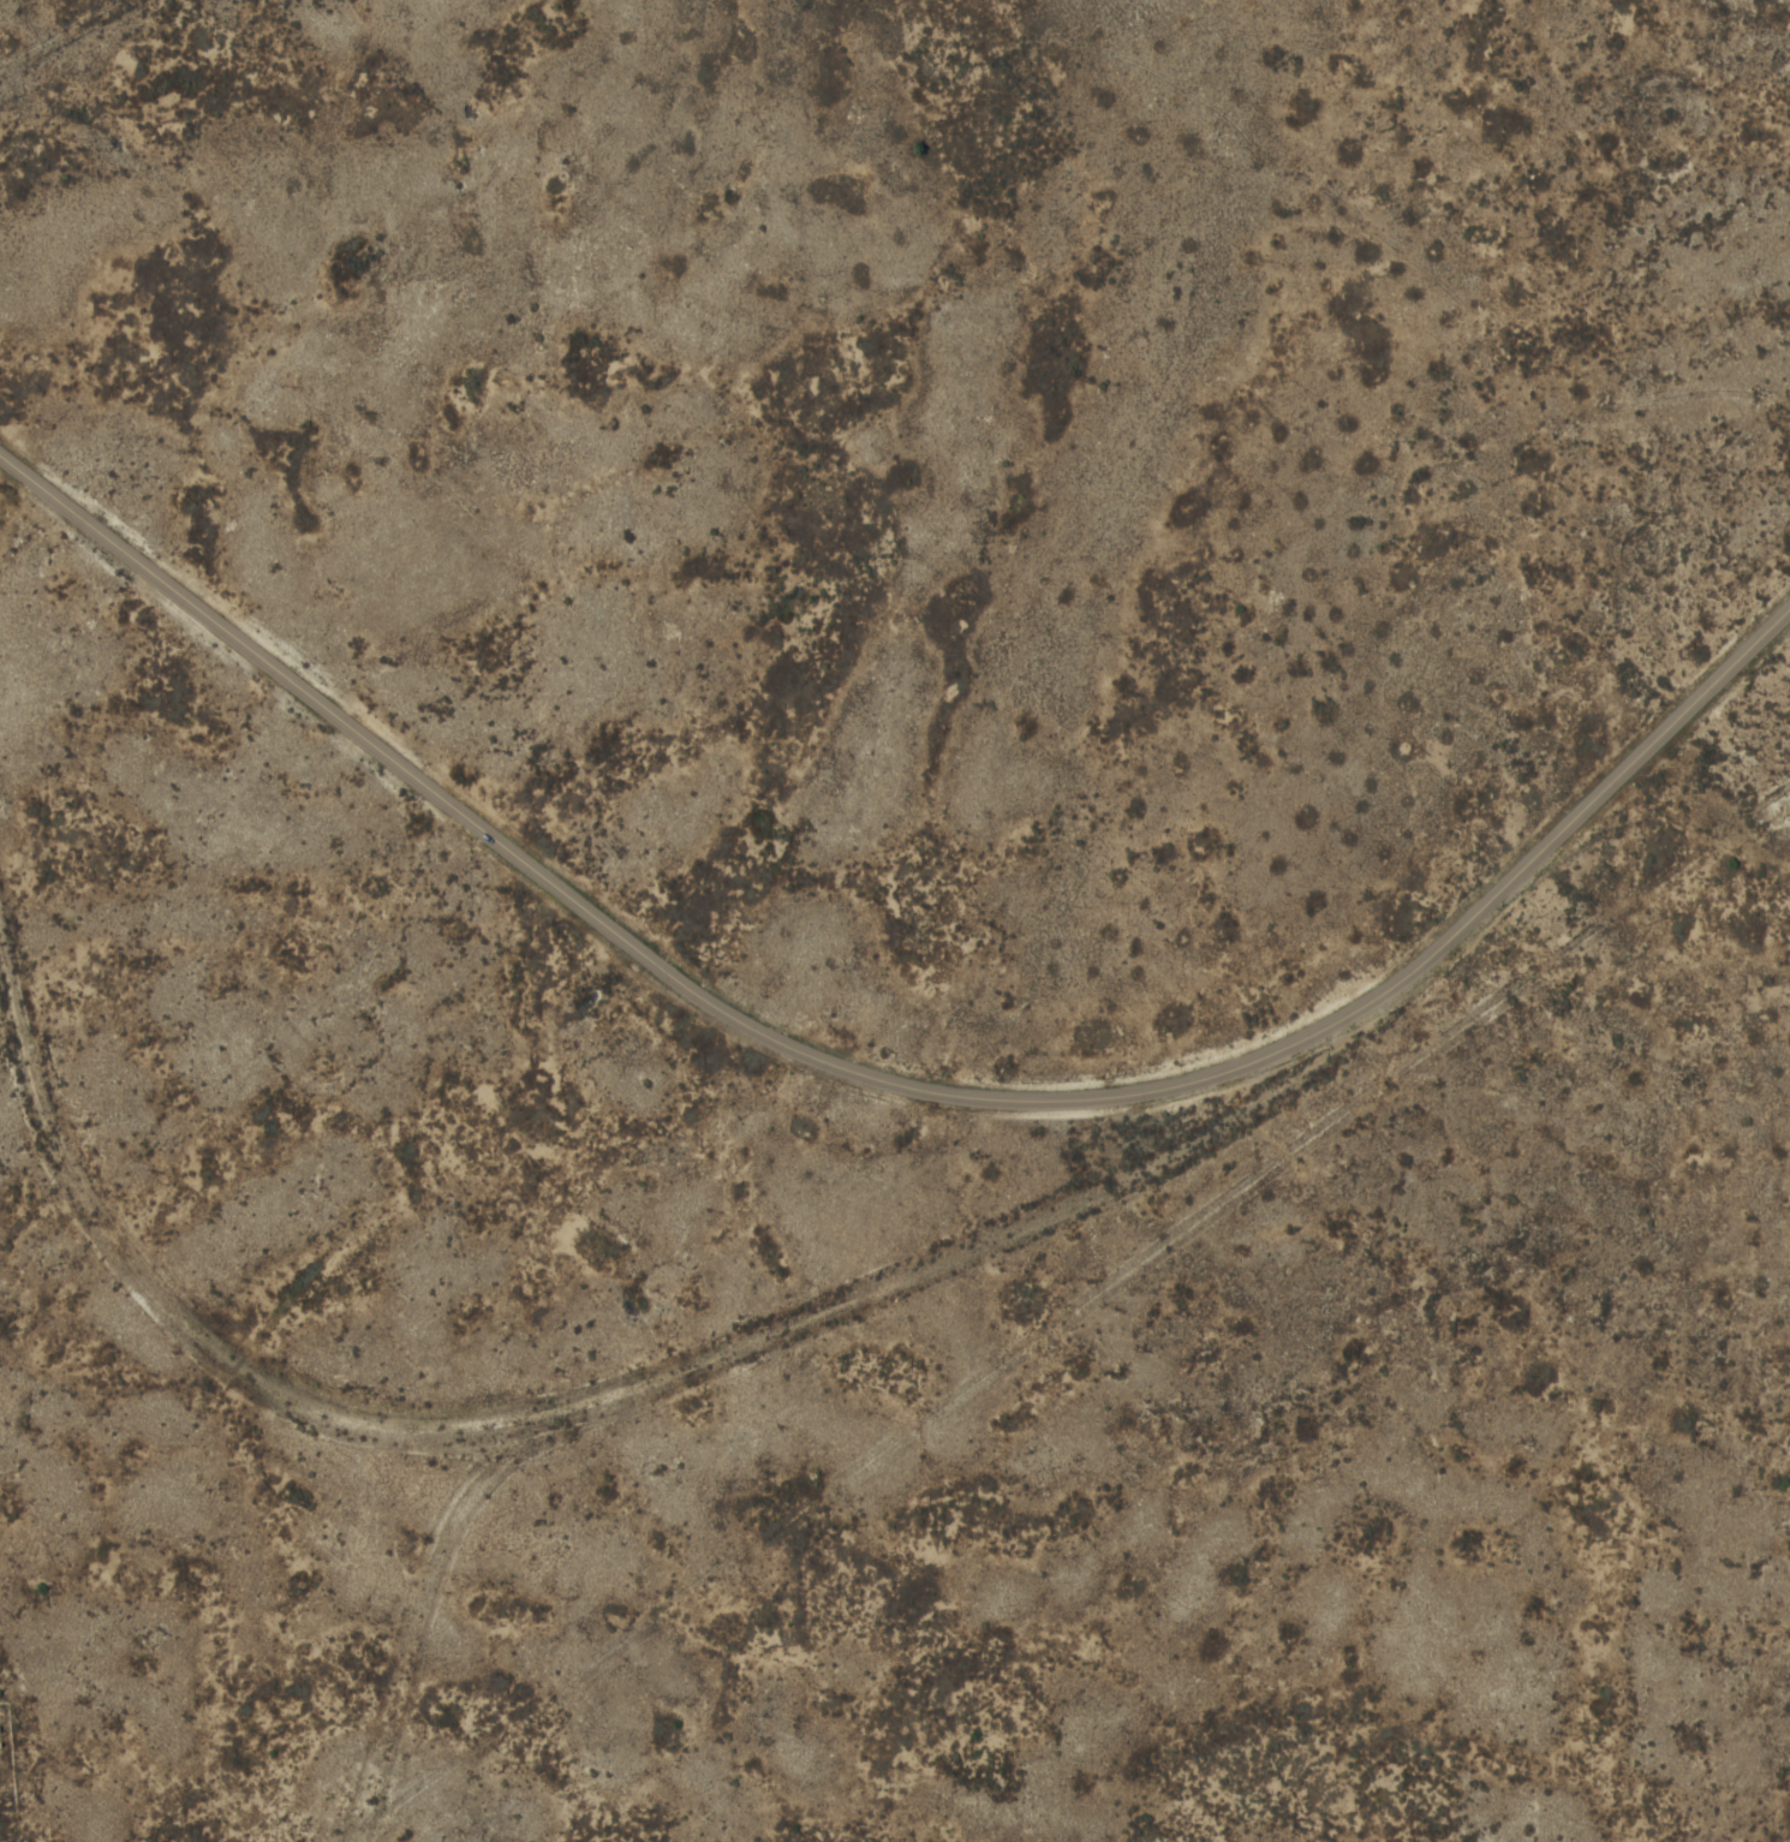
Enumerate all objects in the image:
road: (882, 1087)

